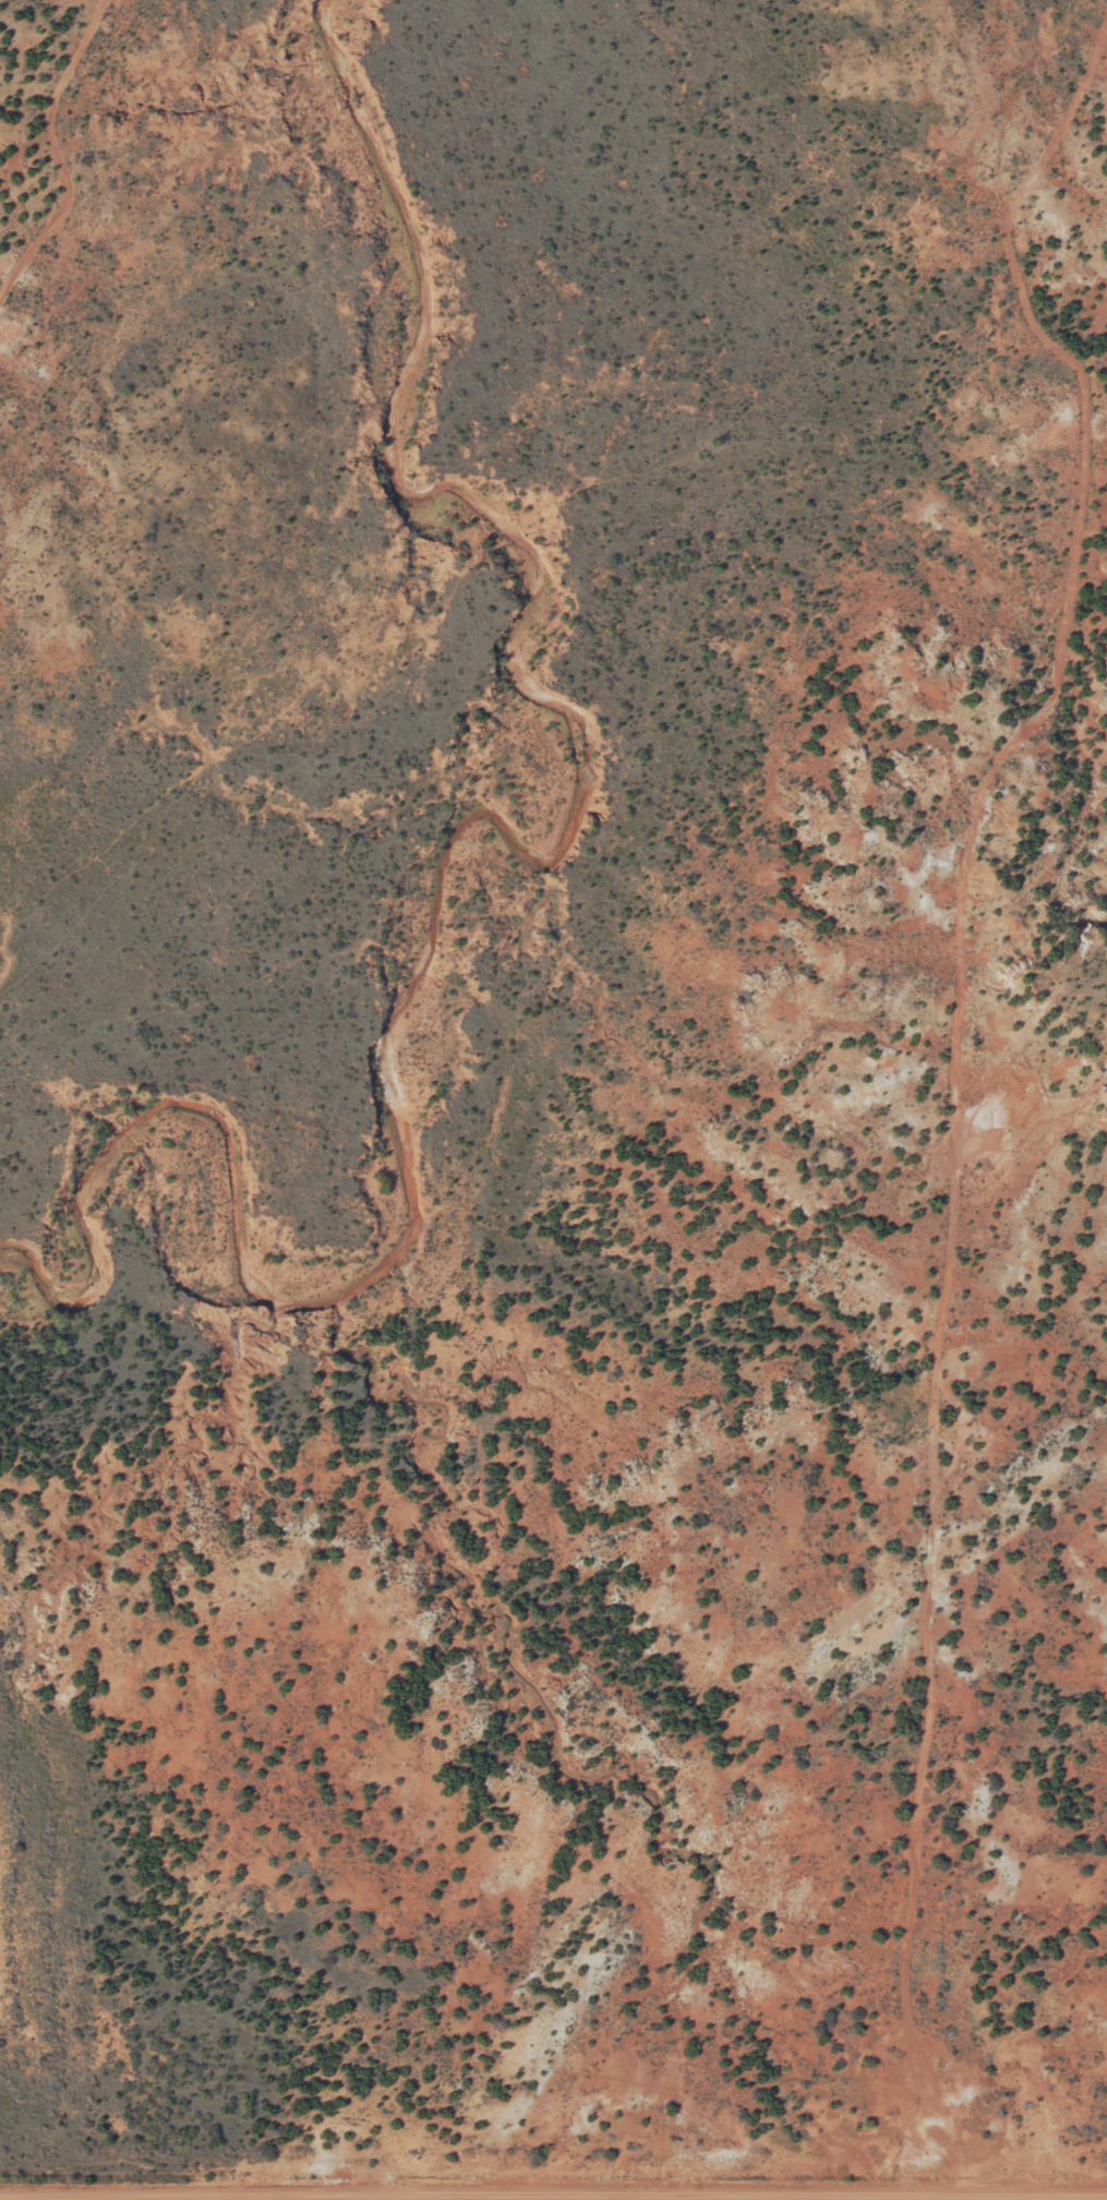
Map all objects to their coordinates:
road: (946, 1070)

